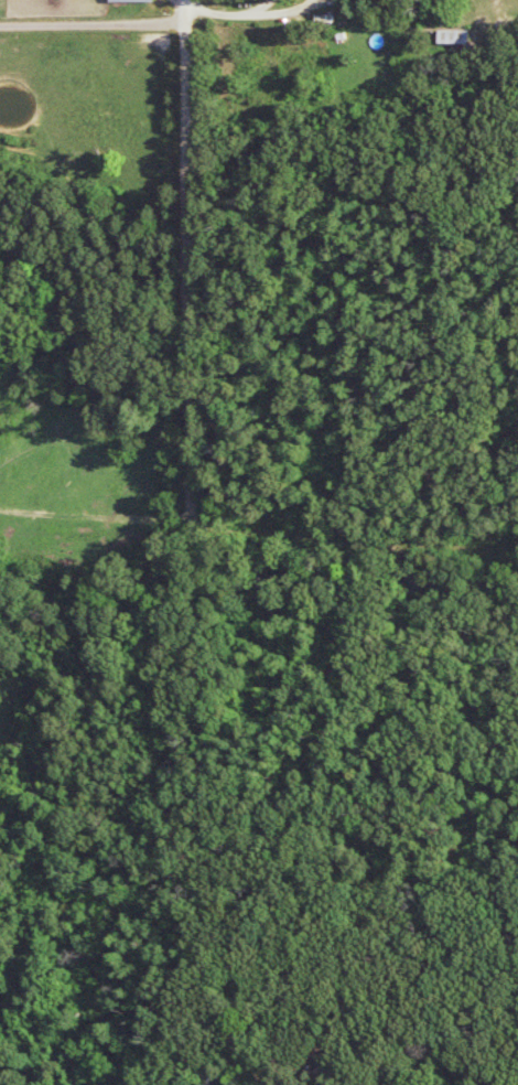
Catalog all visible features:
building: (134, 1)
road: (95, 28)
road: (190, 262)
building: (208, 1079)

